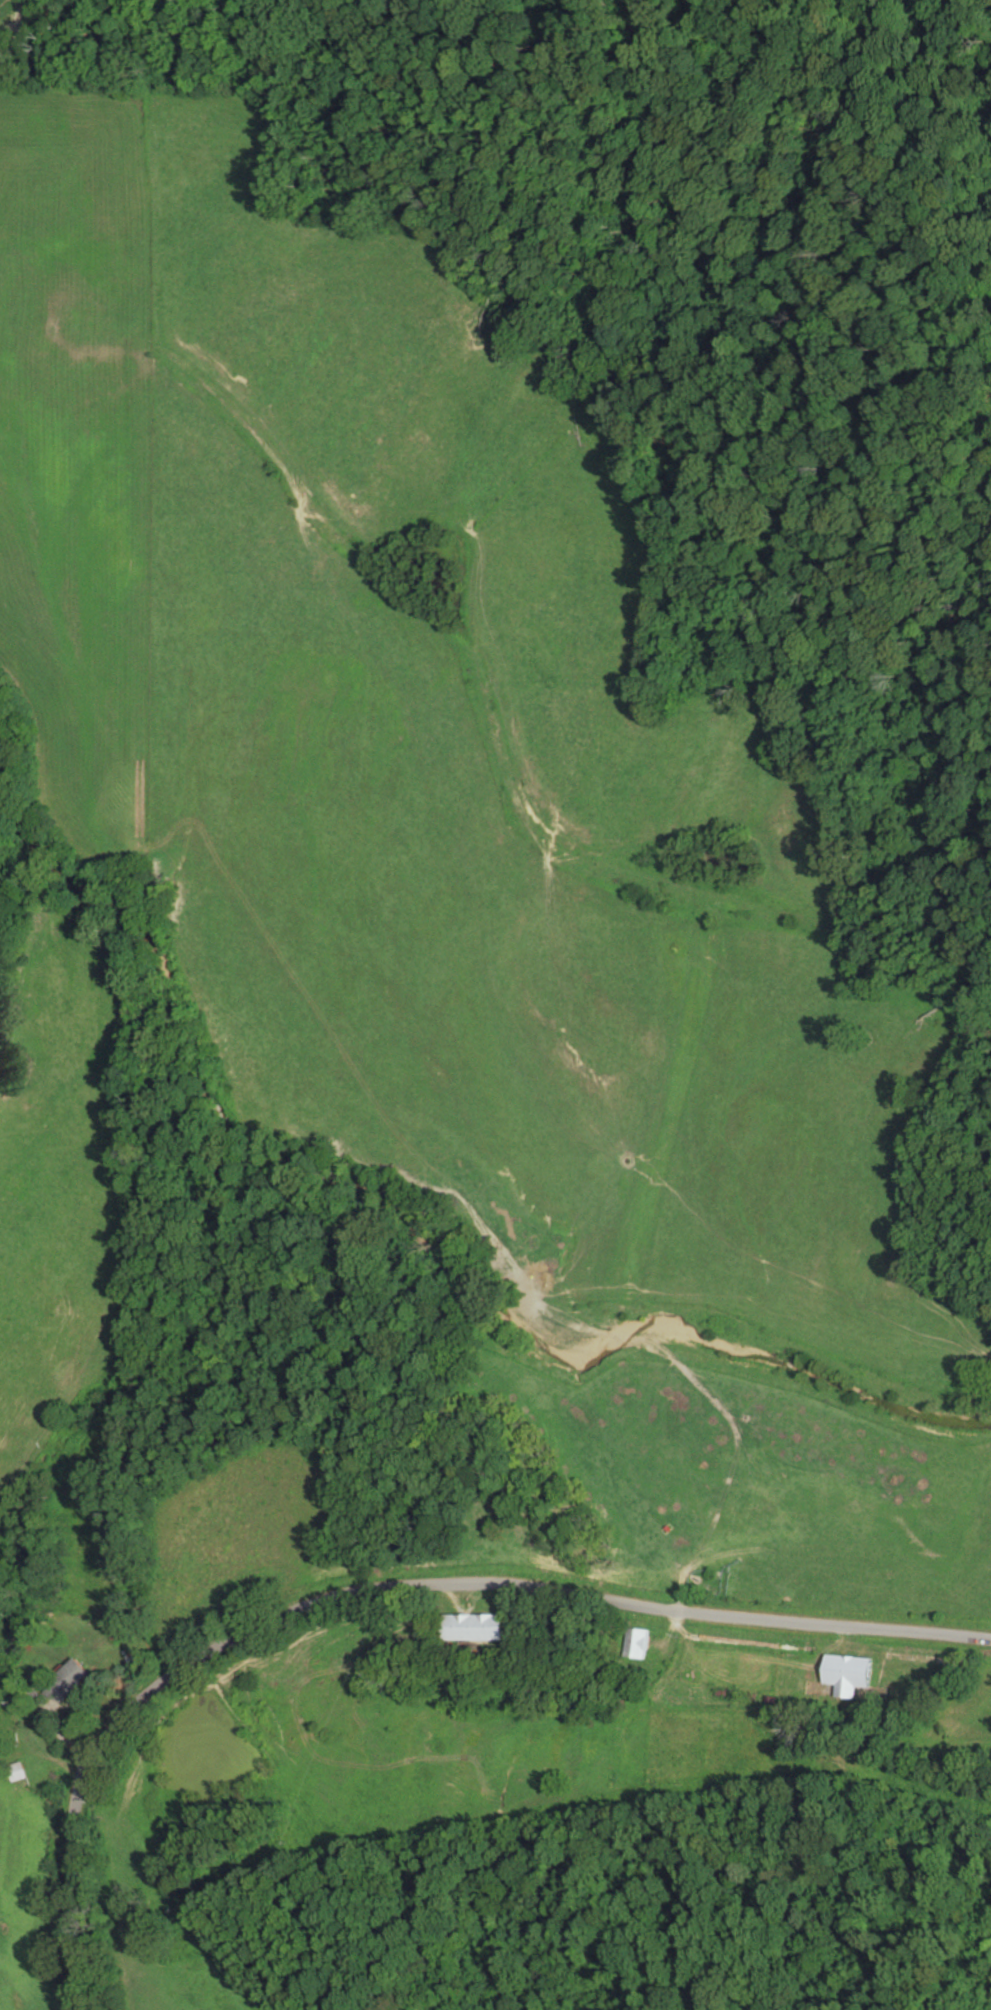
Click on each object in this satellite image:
road: (371, 1593)
building: (472, 1627)
building: (634, 1643)
building: (847, 1674)
building: (66, 1680)
building: (15, 1771)

